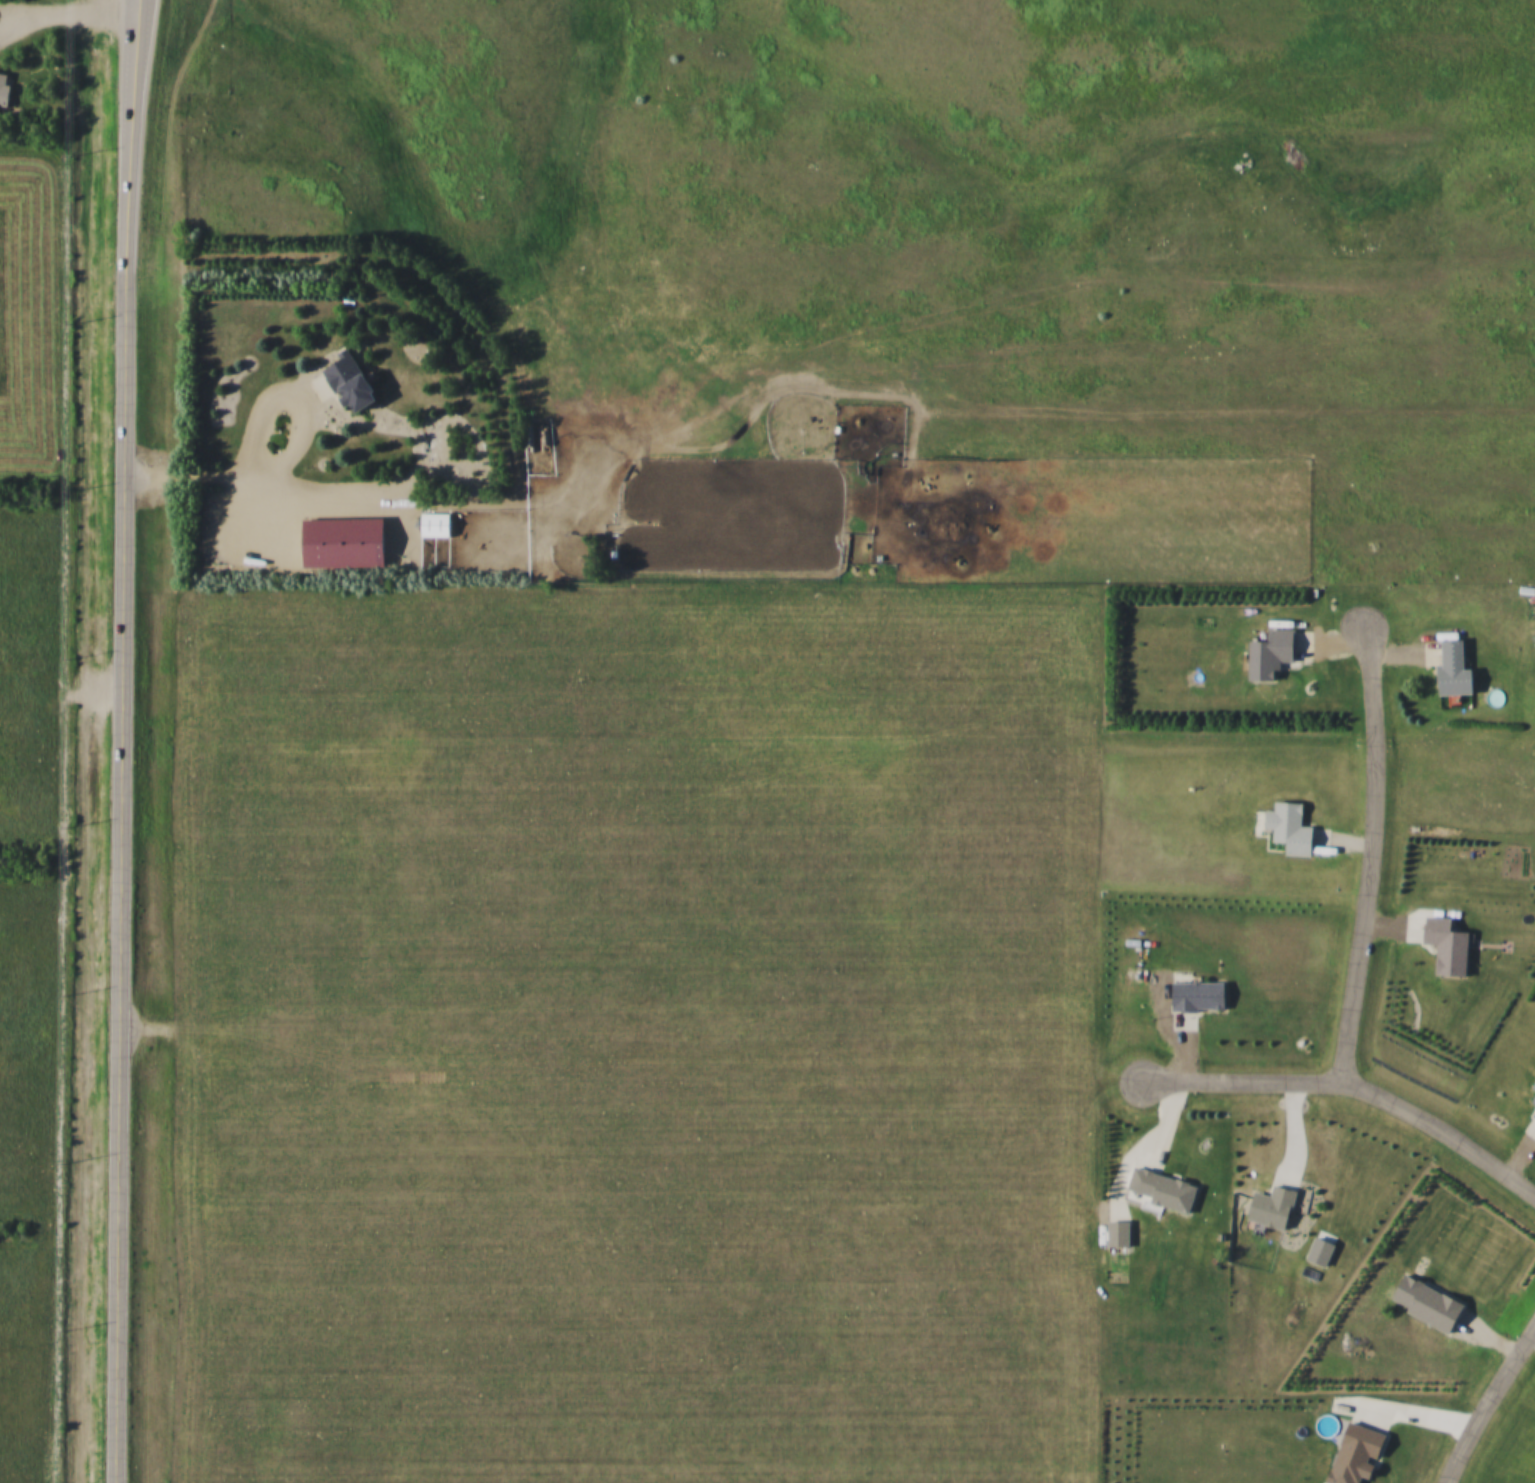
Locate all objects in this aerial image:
road: (64, 20)
building: (5, 89)
building: (356, 380)
road: (291, 391)
road: (275, 481)
building: (438, 523)
road: (122, 635)
building: (1267, 652)
building: (1450, 668)
building: (1286, 828)
road: (1374, 857)
building: (1444, 944)
building: (1195, 994)
building: (1533, 1085)
road: (1349, 1089)
building: (1533, 1099)
building: (1533, 1113)
building: (1159, 1189)
building: (1269, 1207)
building: (1115, 1232)
building: (1424, 1303)
road: (118, 1377)
road: (1489, 1406)
building: (1352, 1454)

